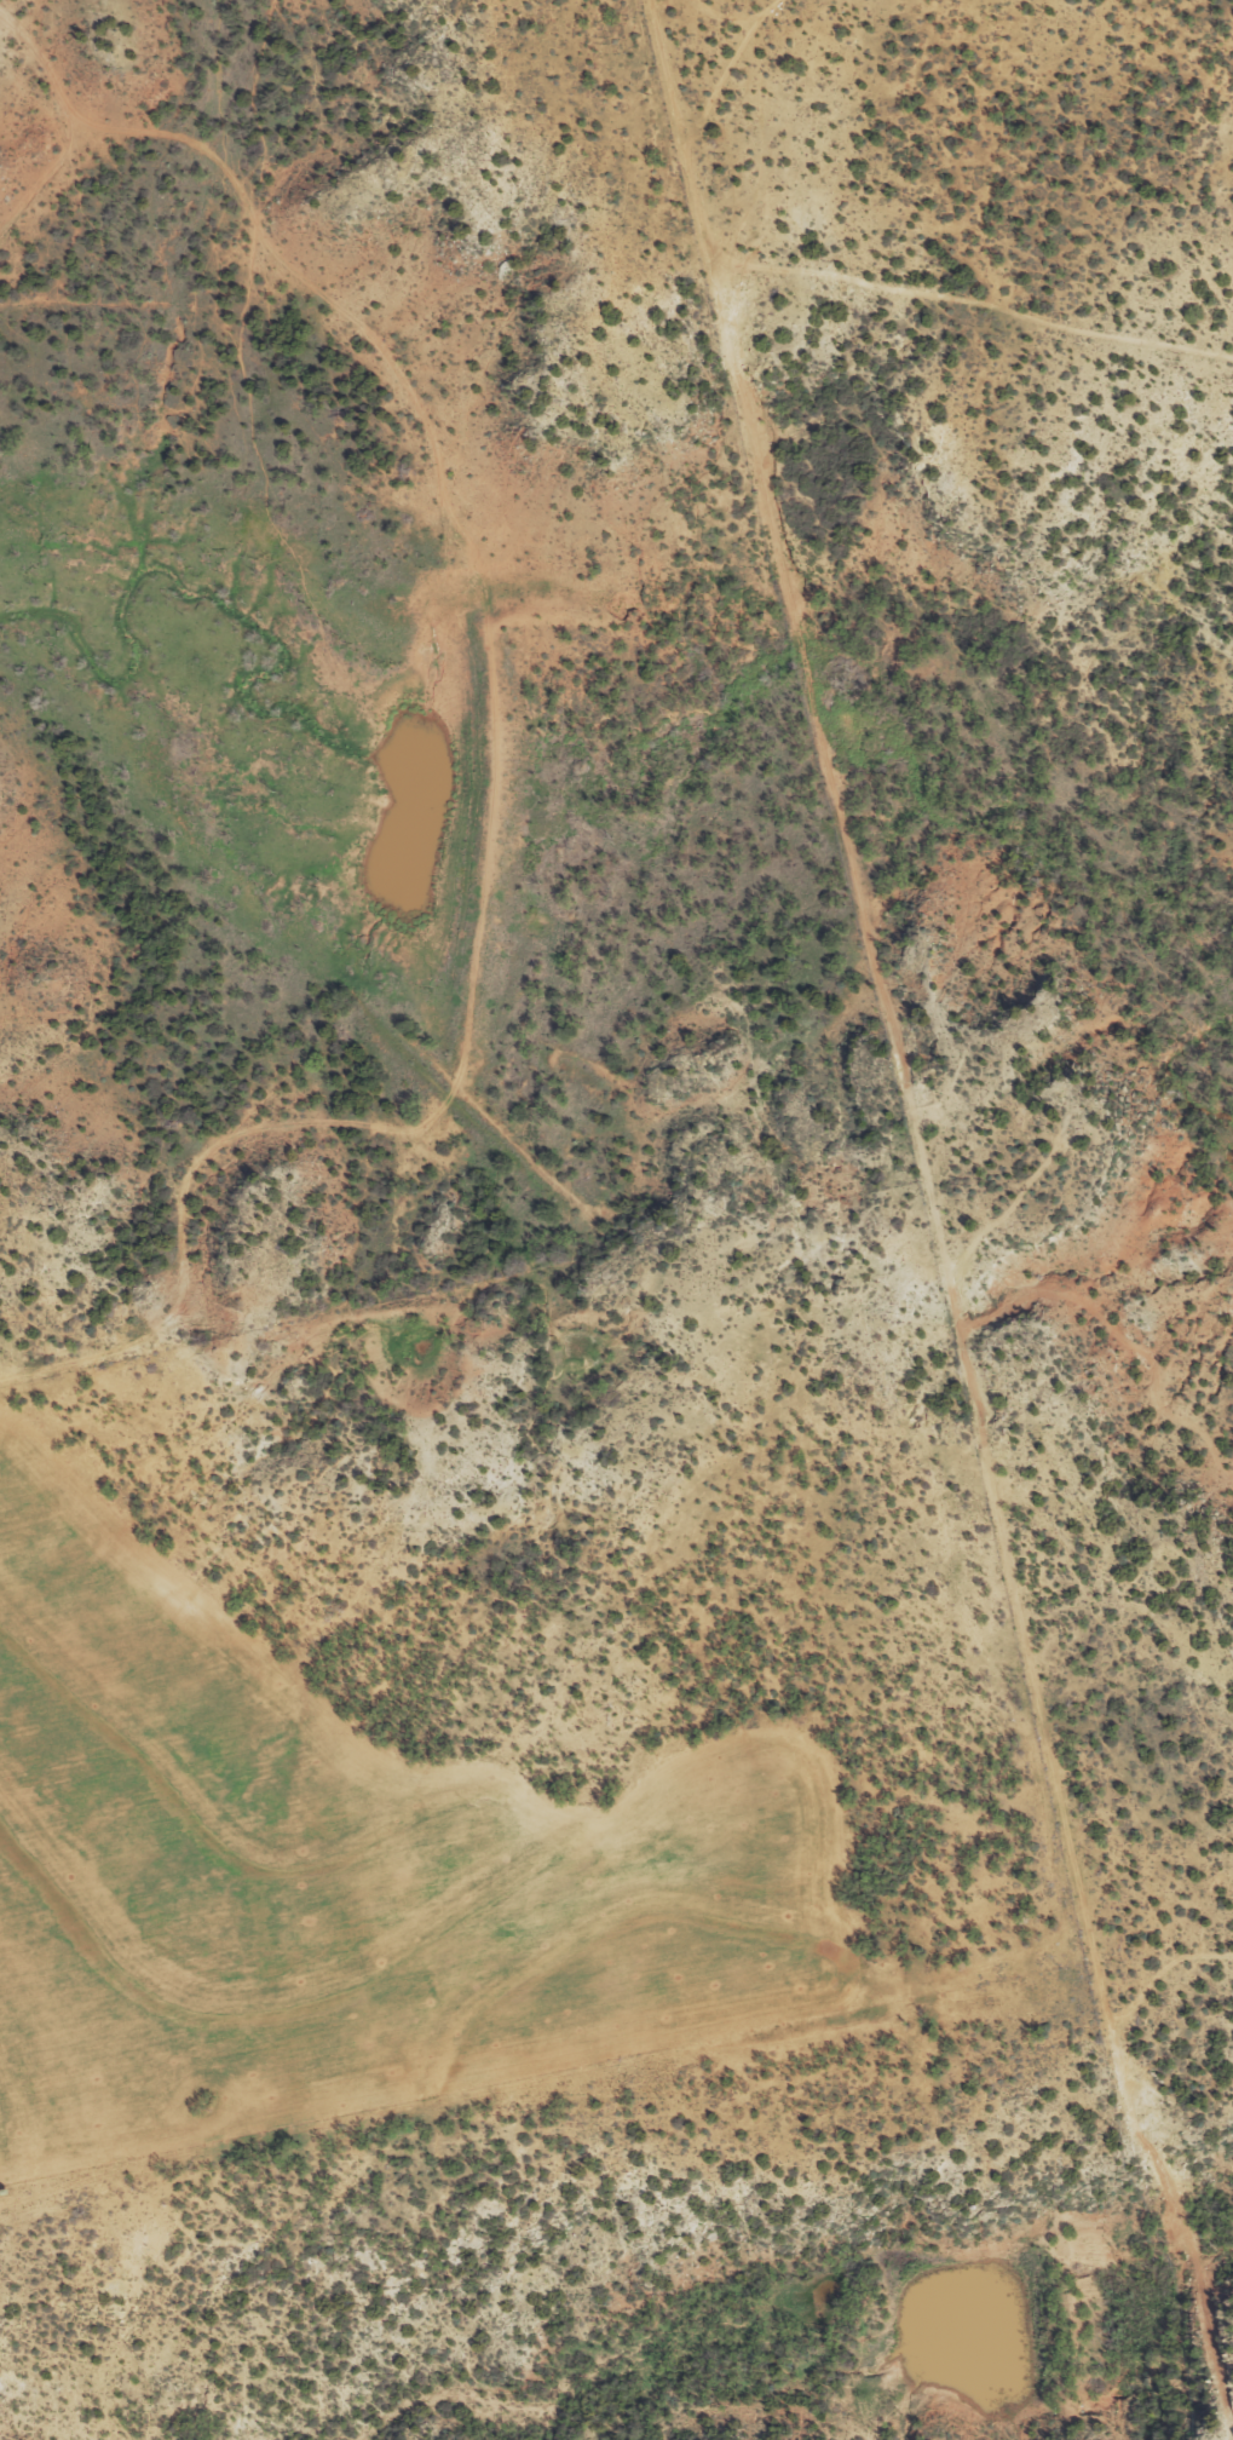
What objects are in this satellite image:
road: (576, 2097)

